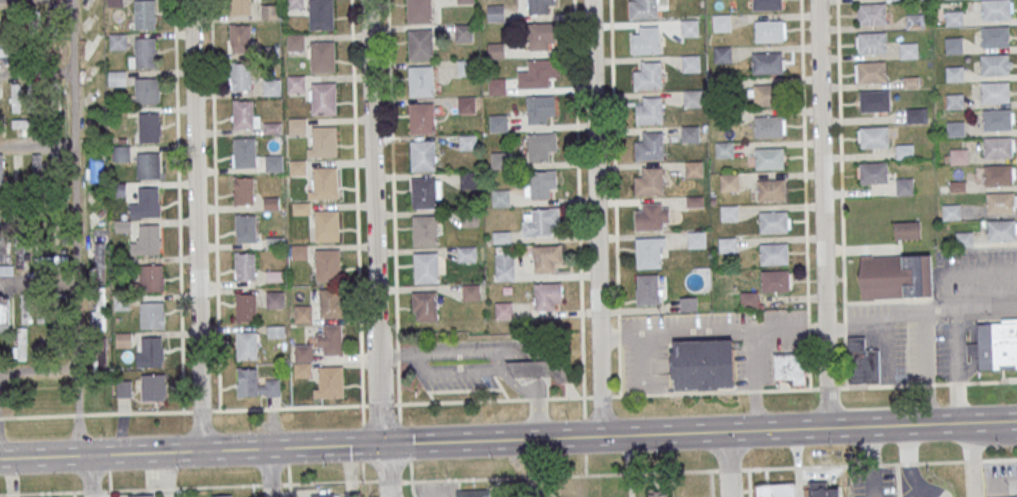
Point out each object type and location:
building: (913, 0)
building: (464, 1)
building: (115, 3)
building: (294, 3)
building: (767, 4)
building: (539, 6)
building: (240, 7)
building: (642, 9)
building: (995, 9)
building: (269, 11)
building: (419, 11)
building: (495, 12)
building: (144, 13)
building: (321, 14)
building: (870, 14)
building: (954, 17)
building: (721, 22)
building: (914, 22)
building: (22, 23)
building: (689, 27)
building: (768, 30)
building: (463, 31)
building: (542, 35)
building: (995, 36)
building: (240, 38)
building: (647, 40)
building: (118, 41)
building: (61, 42)
building: (295, 42)
building: (870, 43)
building: (420, 45)
building: (953, 45)
building: (92, 47)
building: (496, 50)
building: (145, 52)
building: (907, 52)
building: (722, 54)
building: (7, 55)
building: (322, 57)
building: (691, 63)
building: (767, 63)
building: (994, 64)
building: (466, 68)
road: (36, 72)
building: (870, 72)
building: (537, 74)
building: (954, 74)
building: (648, 75)
building: (241, 77)
building: (116, 78)
building: (421, 81)
building: (910, 82)
building: (296, 83)
building: (94, 84)
building: (272, 87)
building: (497, 87)
building: (60, 88)
building: (147, 91)
building: (995, 92)
building: (767, 94)
building: (15, 97)
building: (323, 98)
building: (692, 98)
building: (34, 99)
building: (954, 101)
building: (873, 102)
building: (466, 105)
building: (540, 108)
building: (57, 109)
building: (650, 110)
building: (243, 114)
building: (913, 116)
building: (421, 118)
building: (996, 119)
building: (22, 123)
building: (498, 123)
building: (93, 124)
building: (297, 126)
building: (768, 126)
building: (150, 127)
building: (955, 128)
building: (689, 134)
building: (874, 137)
building: (323, 142)
building: (467, 142)
building: (541, 145)
road: (37, 146)
building: (650, 146)
building: (998, 147)
building: (724, 149)
building: (905, 151)
building: (244, 152)
building: (422, 155)
building: (958, 156)
building: (768, 158)
building: (946, 158)
building: (500, 160)
building: (92, 161)
road: (804, 161)
road: (841, 161)
building: (273, 163)
road: (614, 163)
building: (148, 165)
building: (297, 167)
building: (2, 168)
building: (38, 169)
building: (693, 169)
building: (873, 173)
road: (392, 174)
building: (998, 175)
building: (468, 180)
building: (649, 182)
building: (729, 182)
building: (324, 183)
building: (542, 183)
building: (904, 186)
building: (957, 186)
building: (771, 189)
building: (943, 189)
building: (244, 190)
building: (424, 193)
building: (501, 197)
building: (148, 200)
building: (1000, 202)
road: (215, 205)
road: (178, 206)
road: (578, 209)
building: (94, 211)
road: (357, 212)
building: (951, 212)
building: (729, 213)
road: (822, 214)
road: (37, 216)
building: (649, 216)
building: (469, 218)
road: (598, 218)
building: (773, 221)
road: (376, 222)
building: (541, 222)
road: (196, 225)
building: (326, 225)
building: (122, 226)
road: (75, 228)
building: (246, 229)
building: (424, 230)
building: (906, 230)
building: (1001, 230)
building: (501, 237)
building: (149, 239)
building: (696, 239)
building: (964, 239)
building: (727, 244)
building: (300, 252)
building: (647, 252)
building: (20, 253)
building: (466, 254)
building: (774, 254)
building: (5, 256)
building: (547, 258)
building: (100, 261)
building: (45, 262)
building: (327, 265)
building: (504, 266)
building: (245, 267)
building: (426, 267)
building: (894, 275)
building: (151, 278)
building: (775, 281)
road: (37, 282)
building: (647, 289)
building: (471, 292)
building: (548, 296)
building: (275, 299)
building: (748, 299)
building: (332, 303)
building: (687, 304)
building: (424, 305)
building: (245, 307)
road: (971, 307)
building: (25, 308)
building: (503, 310)
building: (303, 313)
building: (5, 314)
building: (152, 315)
road: (885, 318)
building: (99, 322)
road: (808, 323)
parking lot: (729, 324)
road: (845, 324)
road: (816, 325)
road: (835, 326)
road: (808, 328)
road: (713, 329)
road: (618, 331)
road: (845, 331)
building: (276, 332)
road: (610, 335)
building: (56, 339)
building: (331, 340)
road: (619, 340)
building: (21, 343)
building: (246, 345)
building: (1003, 345)
parking lot: (945, 349)
building: (151, 351)
road: (886, 351)
parking lot: (896, 351)
road: (454, 352)
road: (396, 354)
road: (395, 355)
road: (753, 356)
road: (808, 359)
road: (845, 360)
building: (302, 361)
road: (497, 361)
road: (642, 361)
building: (702, 362)
building: (862, 362)
road: (415, 363)
road: (656, 364)
road: (956, 365)
road: (928, 366)
parking lot: (753, 368)
parking lot: (632, 369)
building: (789, 369)
building: (540, 370)
road: (619, 370)
road: (491, 372)
road: (501, 374)
road: (897, 375)
building: (247, 382)
building: (330, 382)
road: (926, 384)
road: (500, 386)
building: (152, 387)
road: (828, 387)
building: (124, 388)
road: (457, 389)
road: (714, 391)
road: (398, 392)
road: (602, 396)
road: (570, 397)
road: (536, 398)
road: (460, 400)
road: (380, 404)
road: (754, 407)
road: (184, 411)
road: (993, 423)
road: (584, 436)
road: (404, 441)
road: (484, 441)
road: (362, 442)
traffic signals: (382, 445)
road: (998, 459)
road: (970, 460)
road: (971, 460)
road: (910, 461)
road: (874, 462)
road: (585, 464)
road: (729, 464)
road: (851, 464)
road: (729, 469)
road: (362, 470)
road: (386, 470)
road: (271, 473)
road: (87, 476)
road: (559, 476)
road: (410, 478)
parking lot: (1000, 479)
road: (389, 480)
road: (1002, 480)
road: (328, 481)
road: (748, 482)
road: (710, 483)
road: (270, 484)
road: (185, 487)
road: (370, 488)
road: (289, 490)
building: (775, 490)
road: (94, 491)
road: (253, 491)
building: (822, 491)
road: (36, 493)
building: (473, 493)
road: (73, 494)
building: (351, 494)
building: (658, 494)
building: (141, 495)
building: (323, 495)
building: (224, 496)

